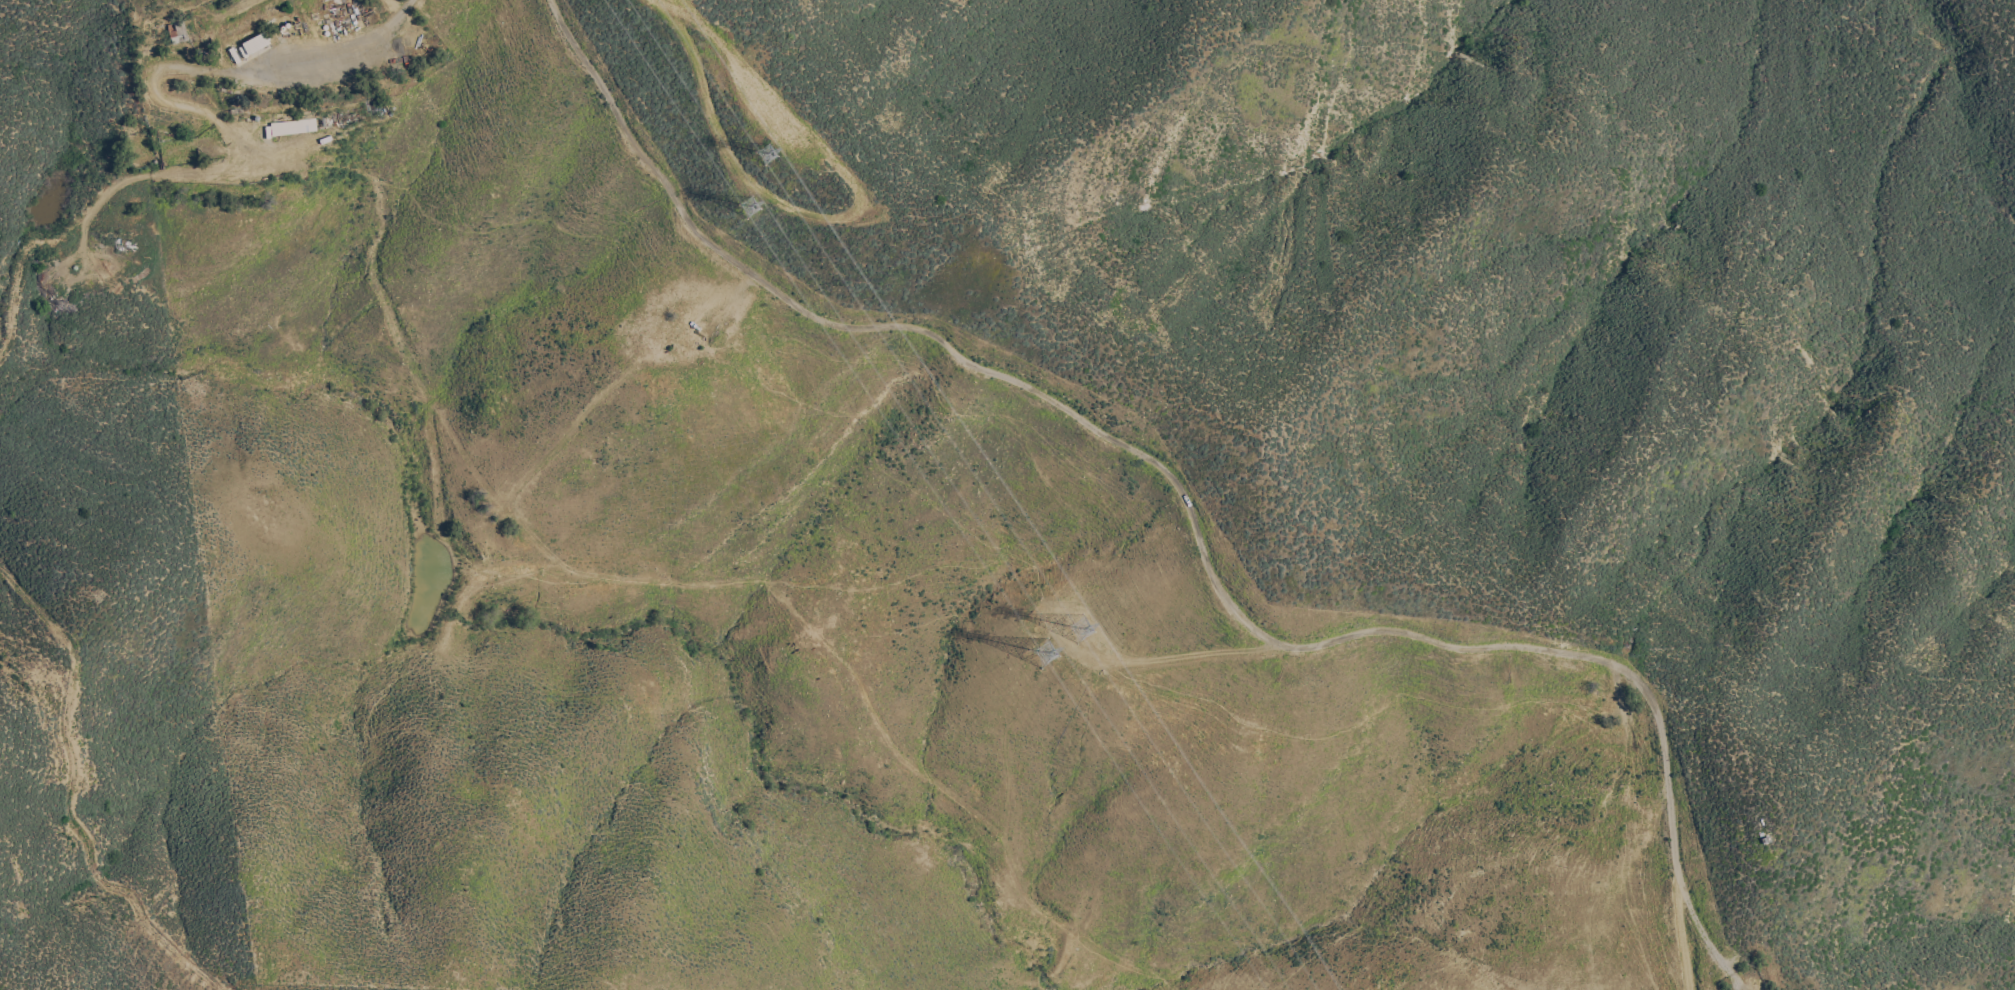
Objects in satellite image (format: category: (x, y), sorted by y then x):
road: (671, 8)
building: (178, 31)
building: (253, 44)
road: (342, 60)
road: (752, 109)
building: (293, 124)
power tower: (761, 160)
power tower: (747, 211)
road: (837, 220)
road: (1189, 510)
power tower: (1083, 631)
power tower: (1045, 656)
road: (1174, 659)
road: (1688, 930)

